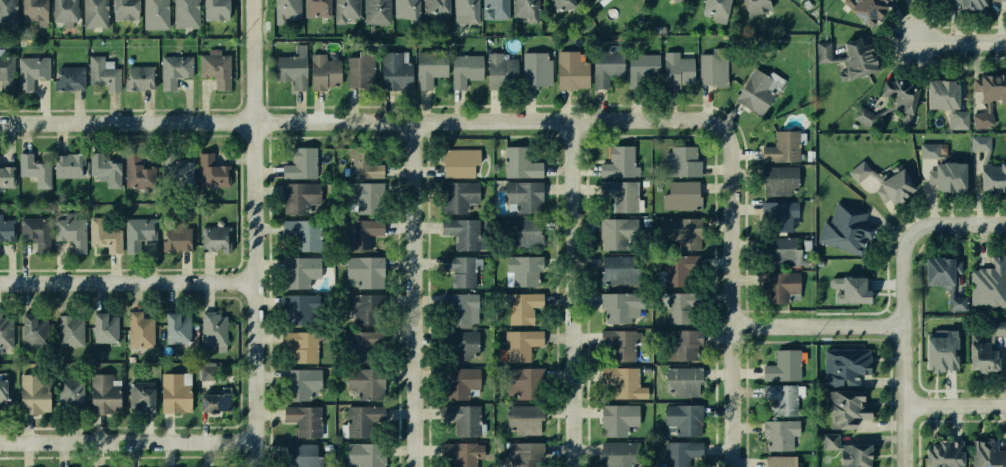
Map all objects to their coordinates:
building: (595, 0)
building: (676, 0)
building: (887, 0)
building: (926, 0)
building: (1000, 1)
building: (560, 3)
building: (968, 4)
building: (752, 6)
building: (316, 7)
building: (496, 7)
building: (213, 8)
building: (435, 8)
building: (526, 8)
building: (715, 8)
building: (865, 8)
building: (130, 9)
building: (406, 9)
building: (467, 9)
building: (39, 10)
building: (67, 10)
building: (285, 10)
building: (346, 10)
building: (376, 11)
building: (186, 12)
building: (97, 13)
building: (158, 13)
building: (9, 14)
road: (961, 40)
building: (823, 50)
building: (857, 59)
building: (606, 64)
building: (642, 64)
building: (7, 66)
building: (291, 66)
building: (429, 67)
building: (498, 67)
building: (711, 67)
building: (217, 68)
building: (535, 68)
building: (675, 68)
building: (358, 69)
building: (465, 69)
building: (393, 70)
building: (570, 70)
building: (174, 71)
building: (33, 72)
building: (322, 72)
building: (105, 73)
building: (142, 76)
building: (70, 78)
building: (757, 90)
building: (939, 93)
building: (989, 96)
building: (890, 104)
building: (956, 119)
road: (210, 120)
road: (587, 120)
road: (435, 121)
building: (780, 147)
building: (929, 150)
building: (363, 161)
building: (457, 162)
building: (518, 162)
building: (618, 162)
building: (680, 162)
building: (299, 163)
building: (73, 164)
building: (988, 166)
building: (857, 168)
building: (37, 169)
building: (108, 169)
building: (180, 170)
building: (212, 172)
building: (7, 175)
building: (140, 175)
building: (947, 176)
building: (778, 179)
building: (892, 186)
building: (620, 194)
building: (365, 196)
building: (457, 196)
building: (521, 196)
building: (680, 196)
building: (297, 197)
building: (780, 214)
road: (953, 225)
building: (846, 226)
building: (7, 229)
building: (74, 231)
building: (38, 232)
building: (109, 232)
building: (461, 232)
building: (617, 232)
building: (140, 233)
road: (260, 233)
building: (519, 233)
building: (178, 234)
building: (354, 234)
building: (678, 234)
building: (218, 236)
building: (304, 236)
building: (779, 252)
building: (523, 270)
building: (364, 271)
building: (463, 271)
building: (615, 271)
building: (675, 271)
building: (301, 274)
building: (943, 277)
road: (130, 280)
building: (989, 282)
building: (778, 286)
building: (849, 287)
road: (578, 293)
road: (422, 294)
road: (729, 299)
building: (616, 306)
building: (678, 307)
building: (366, 308)
building: (520, 308)
building: (458, 309)
building: (299, 310)
building: (108, 327)
building: (216, 327)
road: (814, 327)
building: (37, 328)
building: (142, 328)
building: (179, 328)
building: (998, 328)
building: (73, 330)
building: (7, 332)
building: (459, 342)
building: (519, 343)
building: (622, 344)
building: (304, 345)
building: (365, 345)
building: (682, 347)
road: (899, 347)
building: (938, 351)
building: (979, 354)
building: (784, 364)
building: (843, 365)
building: (208, 373)
building: (683, 380)
building: (522, 381)
building: (456, 382)
building: (625, 382)
building: (304, 383)
building: (367, 383)
building: (5, 390)
building: (107, 392)
building: (75, 393)
building: (36, 394)
building: (178, 394)
building: (777, 397)
building: (147, 400)
building: (219, 402)
road: (952, 404)
building: (844, 407)
building: (462, 418)
building: (522, 418)
building: (683, 418)
building: (618, 420)
building: (308, 421)
building: (362, 421)
building: (778, 434)
road: (131, 440)
building: (846, 449)
building: (680, 452)
building: (944, 453)
building: (988, 453)
building: (367, 454)
building: (459, 454)
building: (521, 454)
building: (305, 455)
building: (617, 455)
building: (773, 461)

